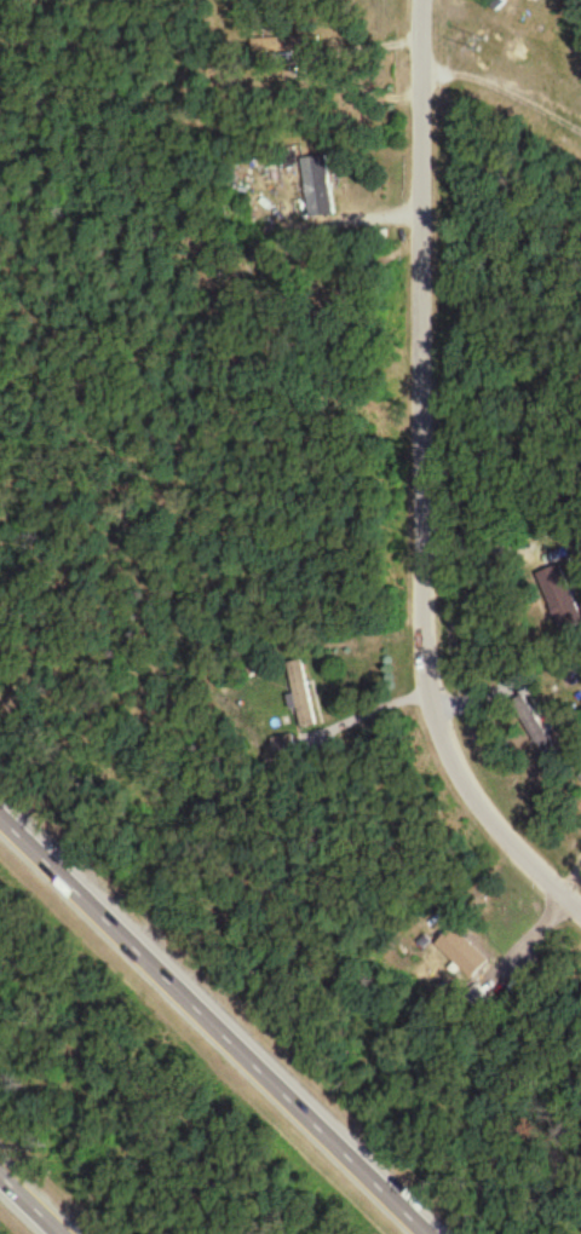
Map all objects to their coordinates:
power tower: (482, 36)
building: (275, 48)
building: (317, 189)
road: (195, 431)
road: (422, 480)
building: (560, 600)
building: (300, 696)
road: (368, 707)
building: (524, 716)
building: (579, 779)
building: (460, 955)
road: (222, 1017)
road: (39, 1195)

